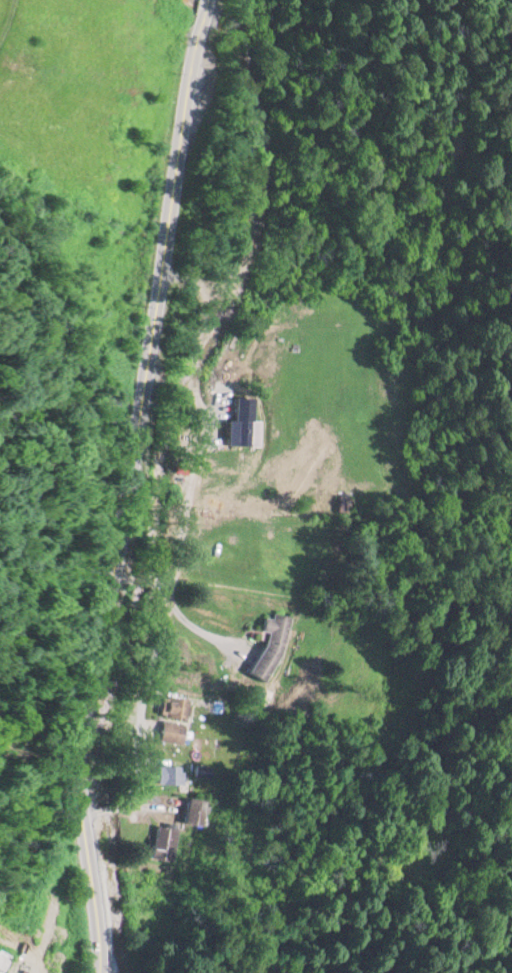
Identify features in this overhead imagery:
building: (243, 423)
road: (125, 485)
road: (178, 547)
building: (270, 644)
building: (172, 706)
building: (170, 730)
building: (170, 773)
building: (194, 811)
building: (161, 841)
building: (3, 963)

